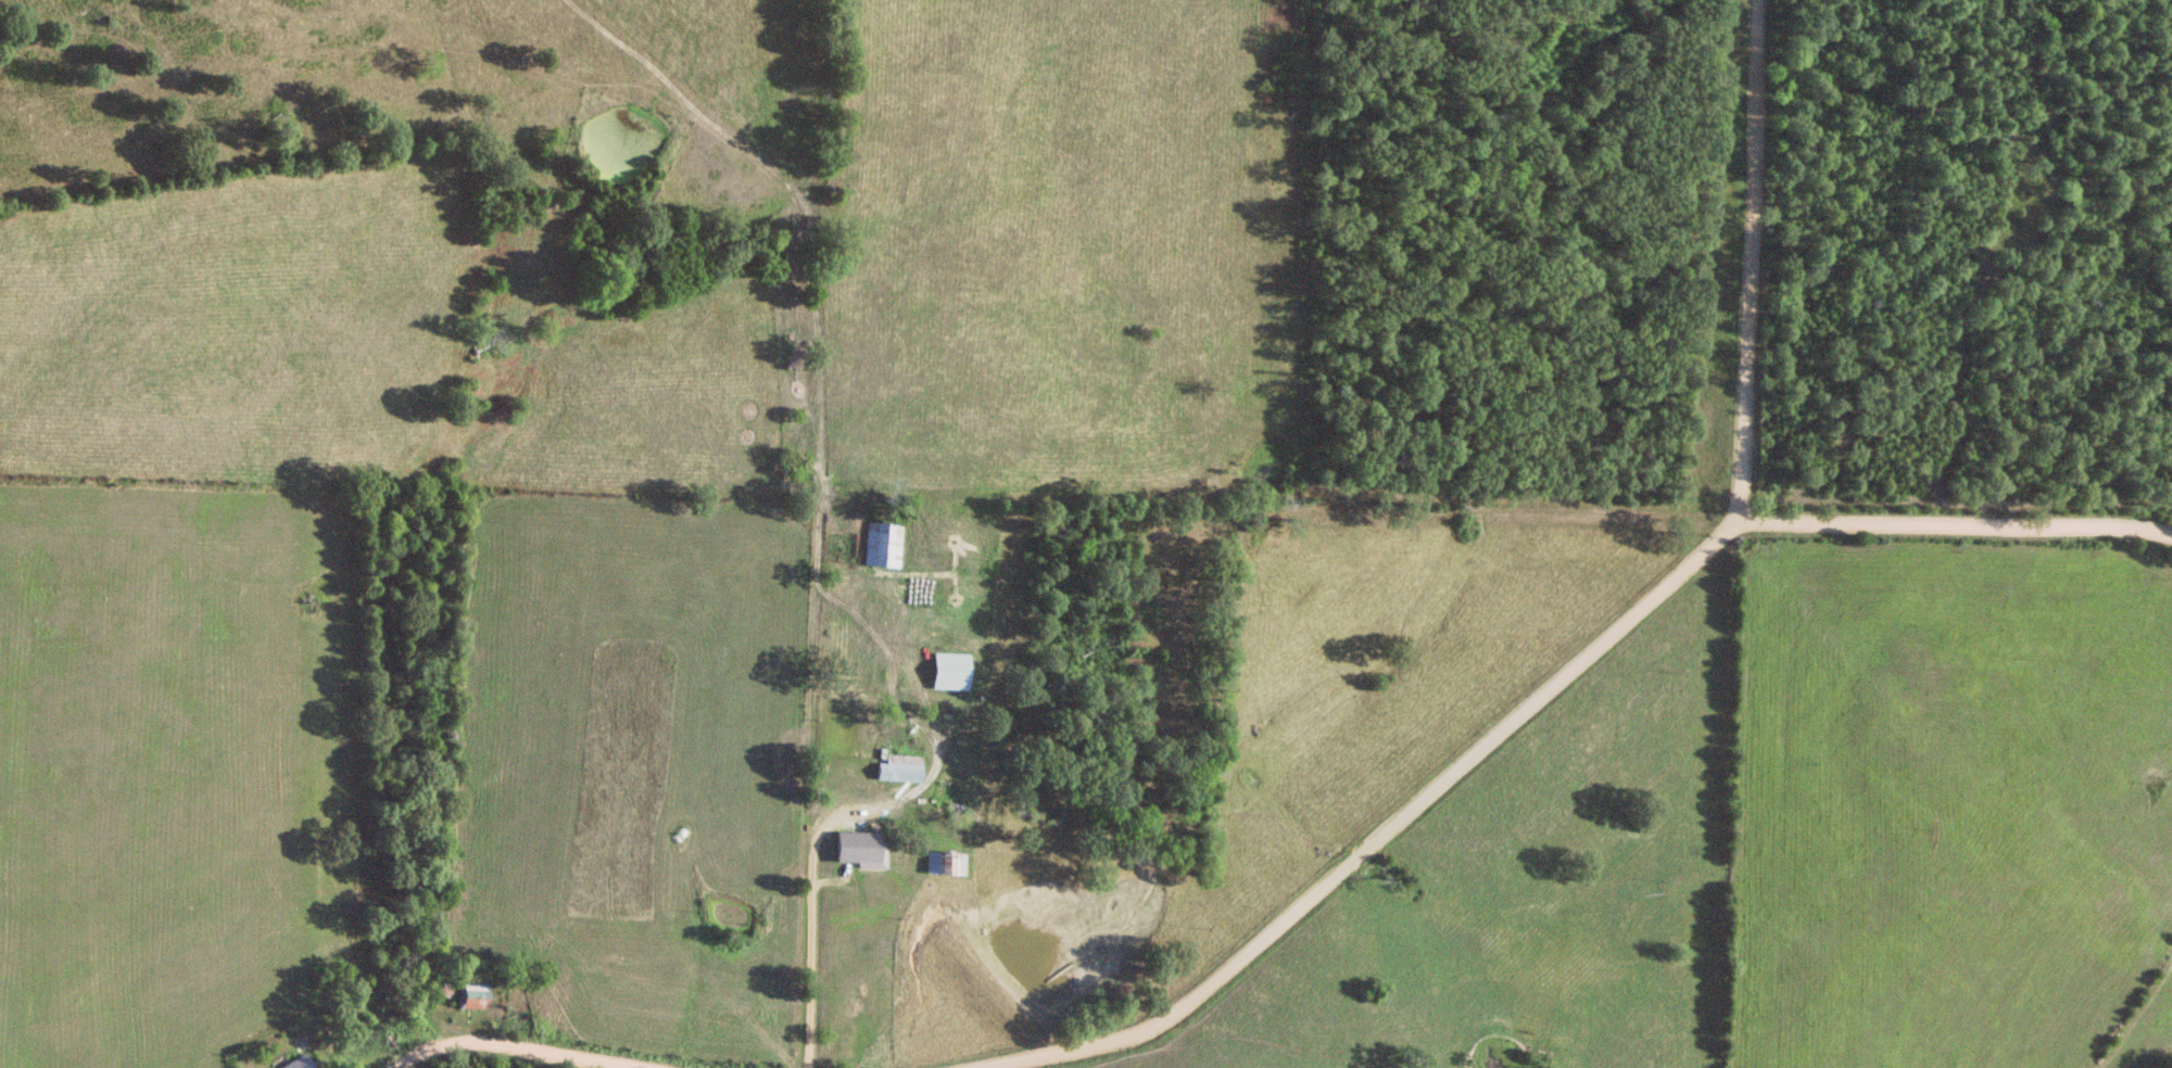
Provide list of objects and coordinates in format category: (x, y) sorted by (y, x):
road: (1952, 526)
building: (885, 547)
road: (1582, 664)
building: (954, 672)
road: (932, 723)
building: (902, 770)
building: (864, 850)
building: (960, 866)
road: (815, 945)
road: (508, 1048)
building: (302, 1063)

